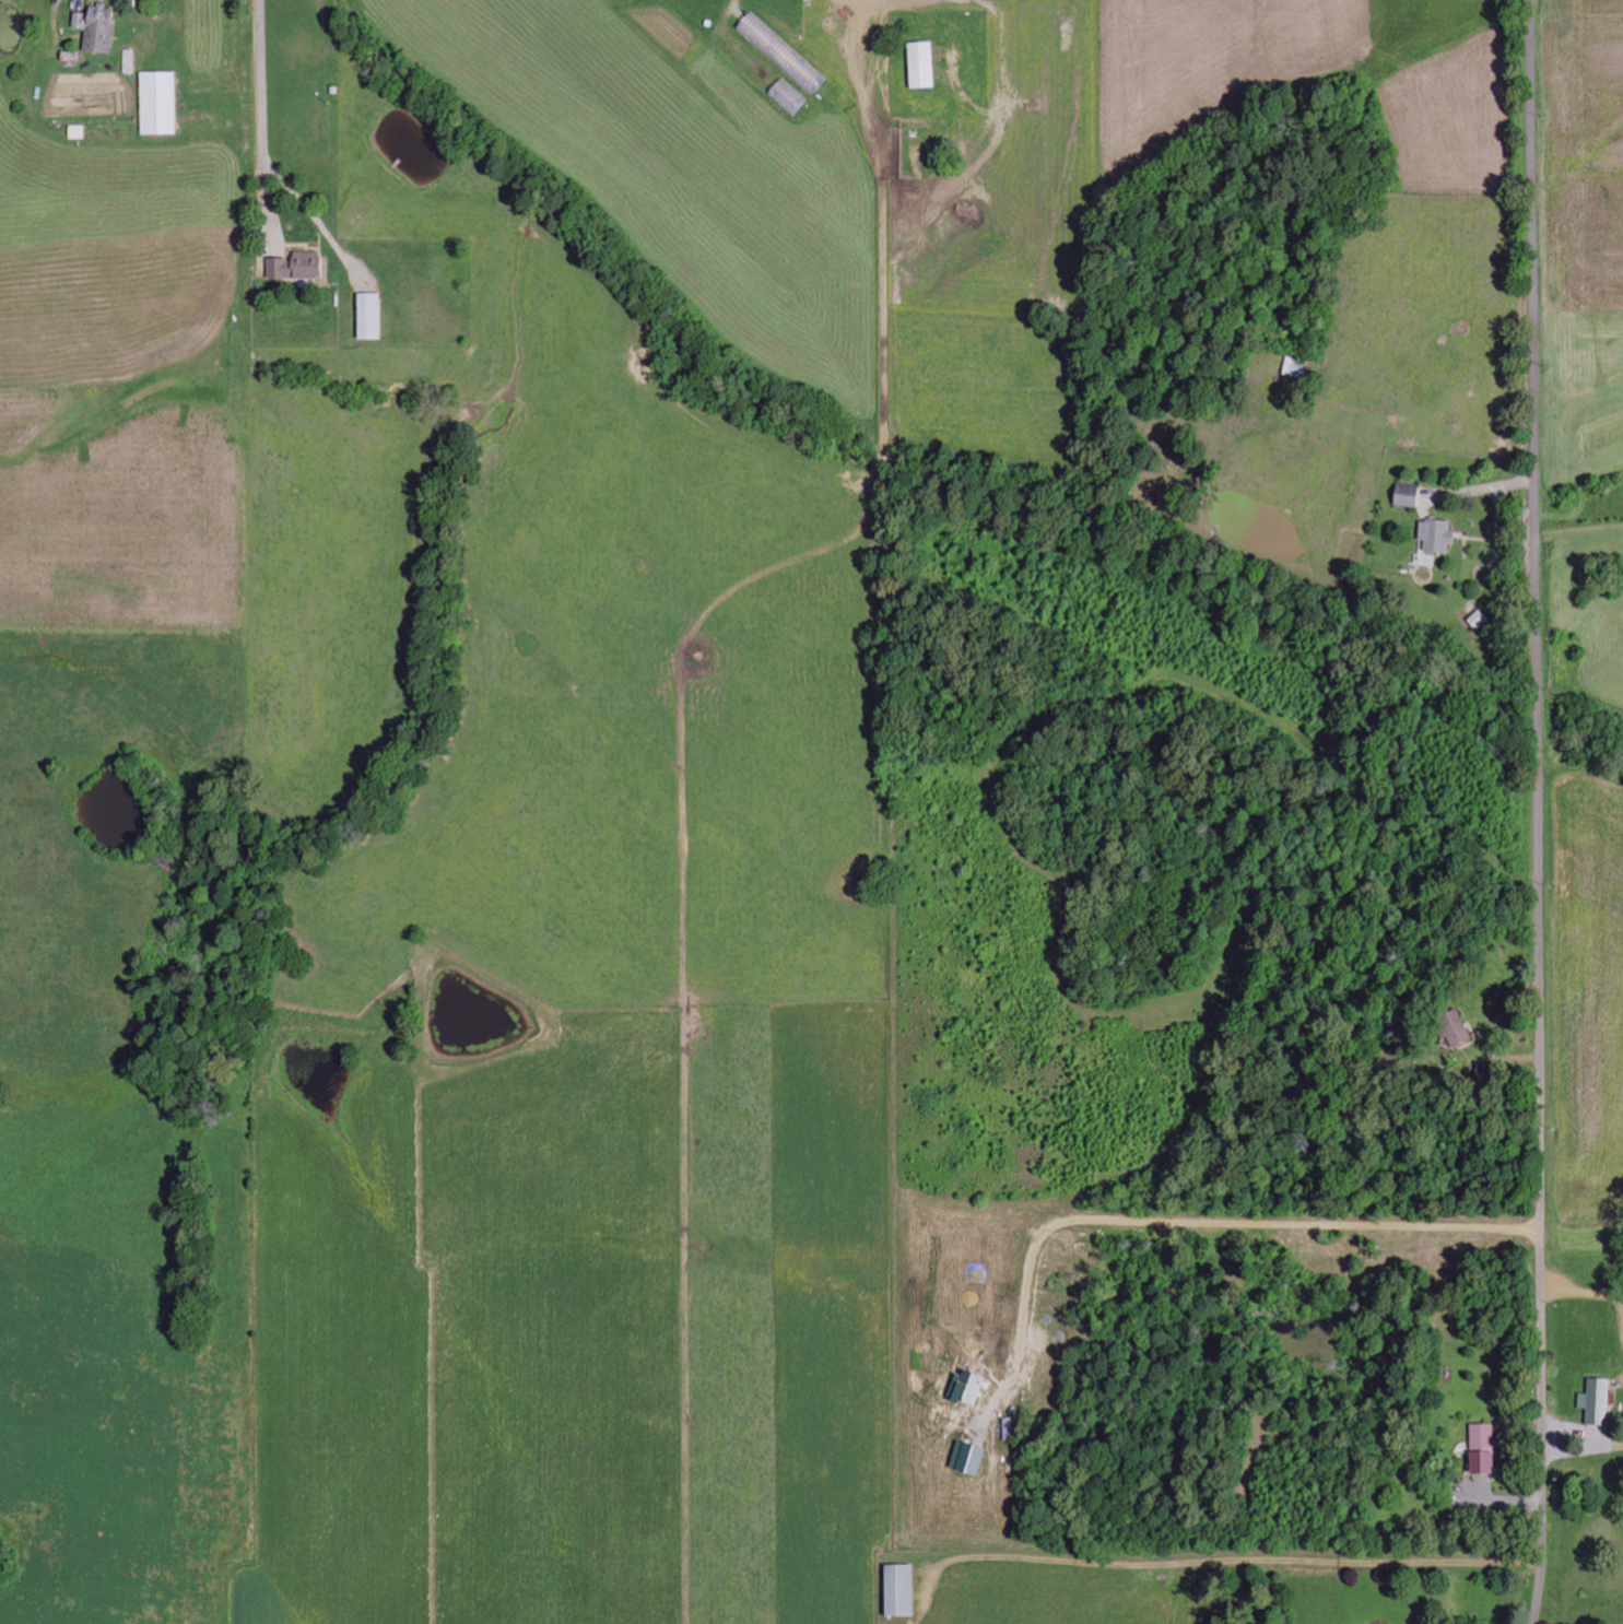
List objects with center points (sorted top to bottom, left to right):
building: (97, 31)
building: (69, 58)
building: (922, 67)
building: (788, 99)
building: (158, 105)
building: (78, 133)
building: (298, 268)
building: (371, 318)
building: (1408, 497)
building: (1433, 543)
road: (1534, 812)
building: (1456, 1034)
building: (1598, 1402)
building: (1485, 1450)
building: (902, 1591)

